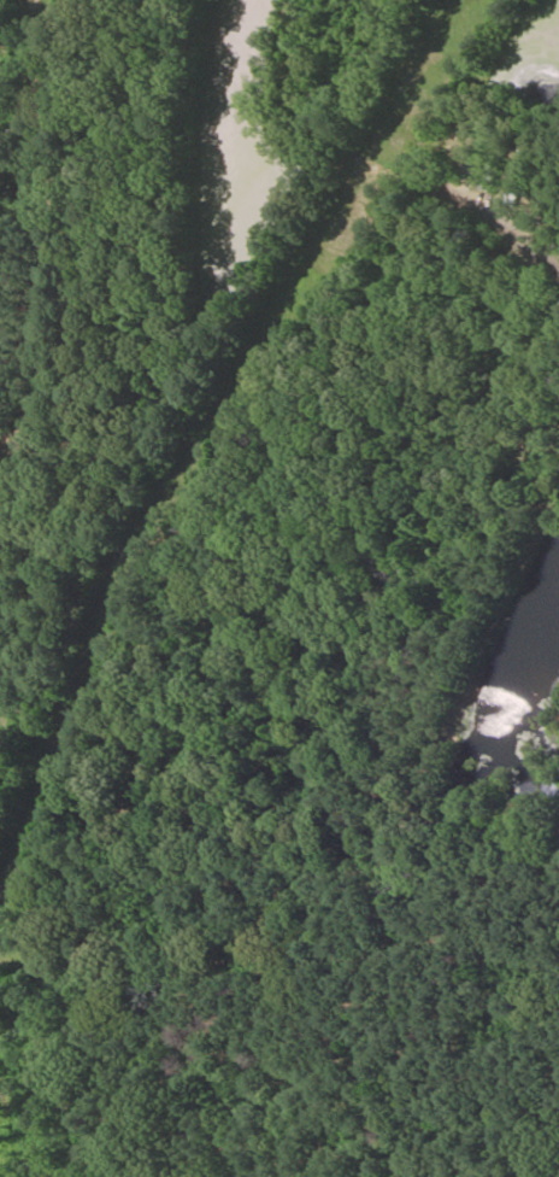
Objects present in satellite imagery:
building: (493, 166)
building: (517, 177)
road: (529, 238)

